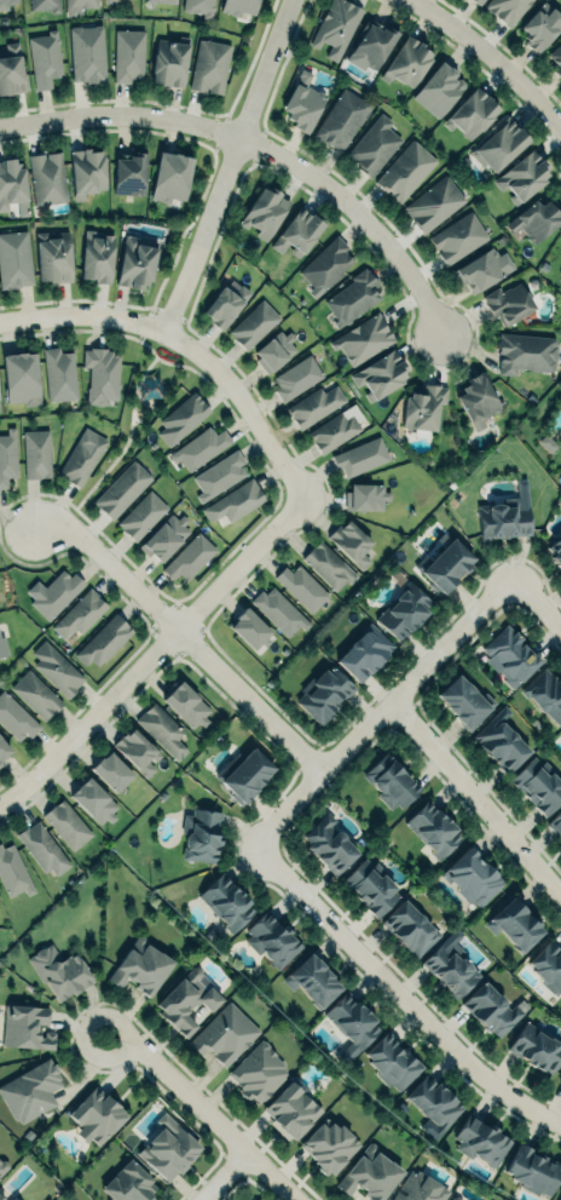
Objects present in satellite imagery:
building: (110, 1)
building: (161, 1)
building: (478, 1)
building: (6, 2)
building: (45, 5)
building: (77, 6)
building: (239, 6)
building: (198, 7)
building: (507, 8)
building: (335, 27)
building: (540, 27)
building: (374, 42)
building: (87, 53)
building: (128, 54)
road: (493, 57)
building: (44, 58)
building: (556, 58)
building: (168, 62)
building: (407, 62)
building: (209, 65)
building: (12, 70)
building: (439, 90)
building: (302, 103)
building: (472, 114)
building: (341, 120)
building: (499, 144)
building: (374, 145)
road: (264, 149)
road: (226, 165)
building: (86, 171)
building: (405, 171)
building: (128, 173)
building: (522, 176)
building: (47, 177)
building: (170, 177)
building: (11, 182)
building: (433, 203)
building: (265, 211)
building: (536, 218)
building: (297, 231)
building: (457, 237)
building: (53, 257)
building: (97, 257)
building: (15, 259)
building: (137, 262)
building: (325, 265)
building: (481, 270)
building: (560, 276)
building: (352, 298)
building: (508, 303)
building: (224, 305)
building: (253, 323)
road: (203, 338)
building: (362, 339)
road: (185, 345)
building: (273, 351)
building: (525, 351)
road: (227, 357)
building: (59, 374)
building: (100, 375)
building: (378, 375)
building: (21, 378)
road: (247, 378)
building: (295, 378)
building: (476, 400)
road: (262, 403)
building: (314, 406)
building: (422, 407)
building: (181, 417)
building: (332, 431)
road: (280, 432)
road: (127, 440)
building: (199, 447)
building: (36, 453)
building: (7, 455)
building: (82, 457)
building: (359, 457)
road: (299, 458)
building: (218, 475)
road: (314, 476)
building: (121, 489)
road: (322, 496)
building: (365, 496)
building: (235, 501)
building: (141, 515)
road: (314, 516)
building: (503, 518)
road: (293, 535)
building: (164, 536)
building: (351, 542)
building: (556, 551)
building: (190, 557)
road: (267, 558)
building: (328, 565)
building: (444, 567)
road: (243, 582)
building: (301, 587)
building: (54, 592)
road: (227, 599)
road: (536, 602)
building: (279, 612)
building: (403, 612)
building: (80, 613)
building: (248, 628)
road: (181, 632)
building: (103, 641)
building: (2, 647)
road: (152, 651)
building: (364, 653)
building: (511, 654)
building: (54, 668)
building: (323, 694)
building: (35, 695)
building: (546, 697)
building: (464, 702)
building: (186, 704)
road: (380, 708)
building: (15, 718)
building: (161, 729)
building: (560, 737)
building: (499, 745)
building: (137, 750)
building: (2, 751)
building: (110, 771)
building: (243, 775)
building: (391, 781)
building: (537, 785)
road: (474, 799)
building: (93, 800)
building: (555, 821)
building: (66, 823)
building: (432, 828)
building: (199, 836)
building: (328, 844)
building: (42, 848)
building: (13, 872)
building: (470, 875)
building: (370, 886)
building: (226, 902)
building: (514, 925)
building: (410, 926)
building: (271, 941)
building: (139, 966)
building: (450, 966)
building: (548, 968)
building: (59, 971)
building: (311, 981)
road: (397, 995)
building: (187, 1001)
building: (490, 1010)
building: (351, 1023)
building: (25, 1028)
building: (224, 1034)
building: (536, 1049)
building: (391, 1062)
building: (258, 1073)
building: (560, 1080)
building: (30, 1091)
building: (433, 1103)
building: (291, 1110)
road: (201, 1114)
building: (96, 1115)
building: (480, 1141)
building: (329, 1148)
building: (168, 1149)
building: (2, 1166)
building: (533, 1170)
building: (369, 1173)
road: (219, 1177)
building: (128, 1184)
building: (418, 1188)
building: (455, 1198)
building: (560, 1198)
building: (1, 1199)
building: (10, 1199)
building: (13, 1199)
building: (251, 1199)

